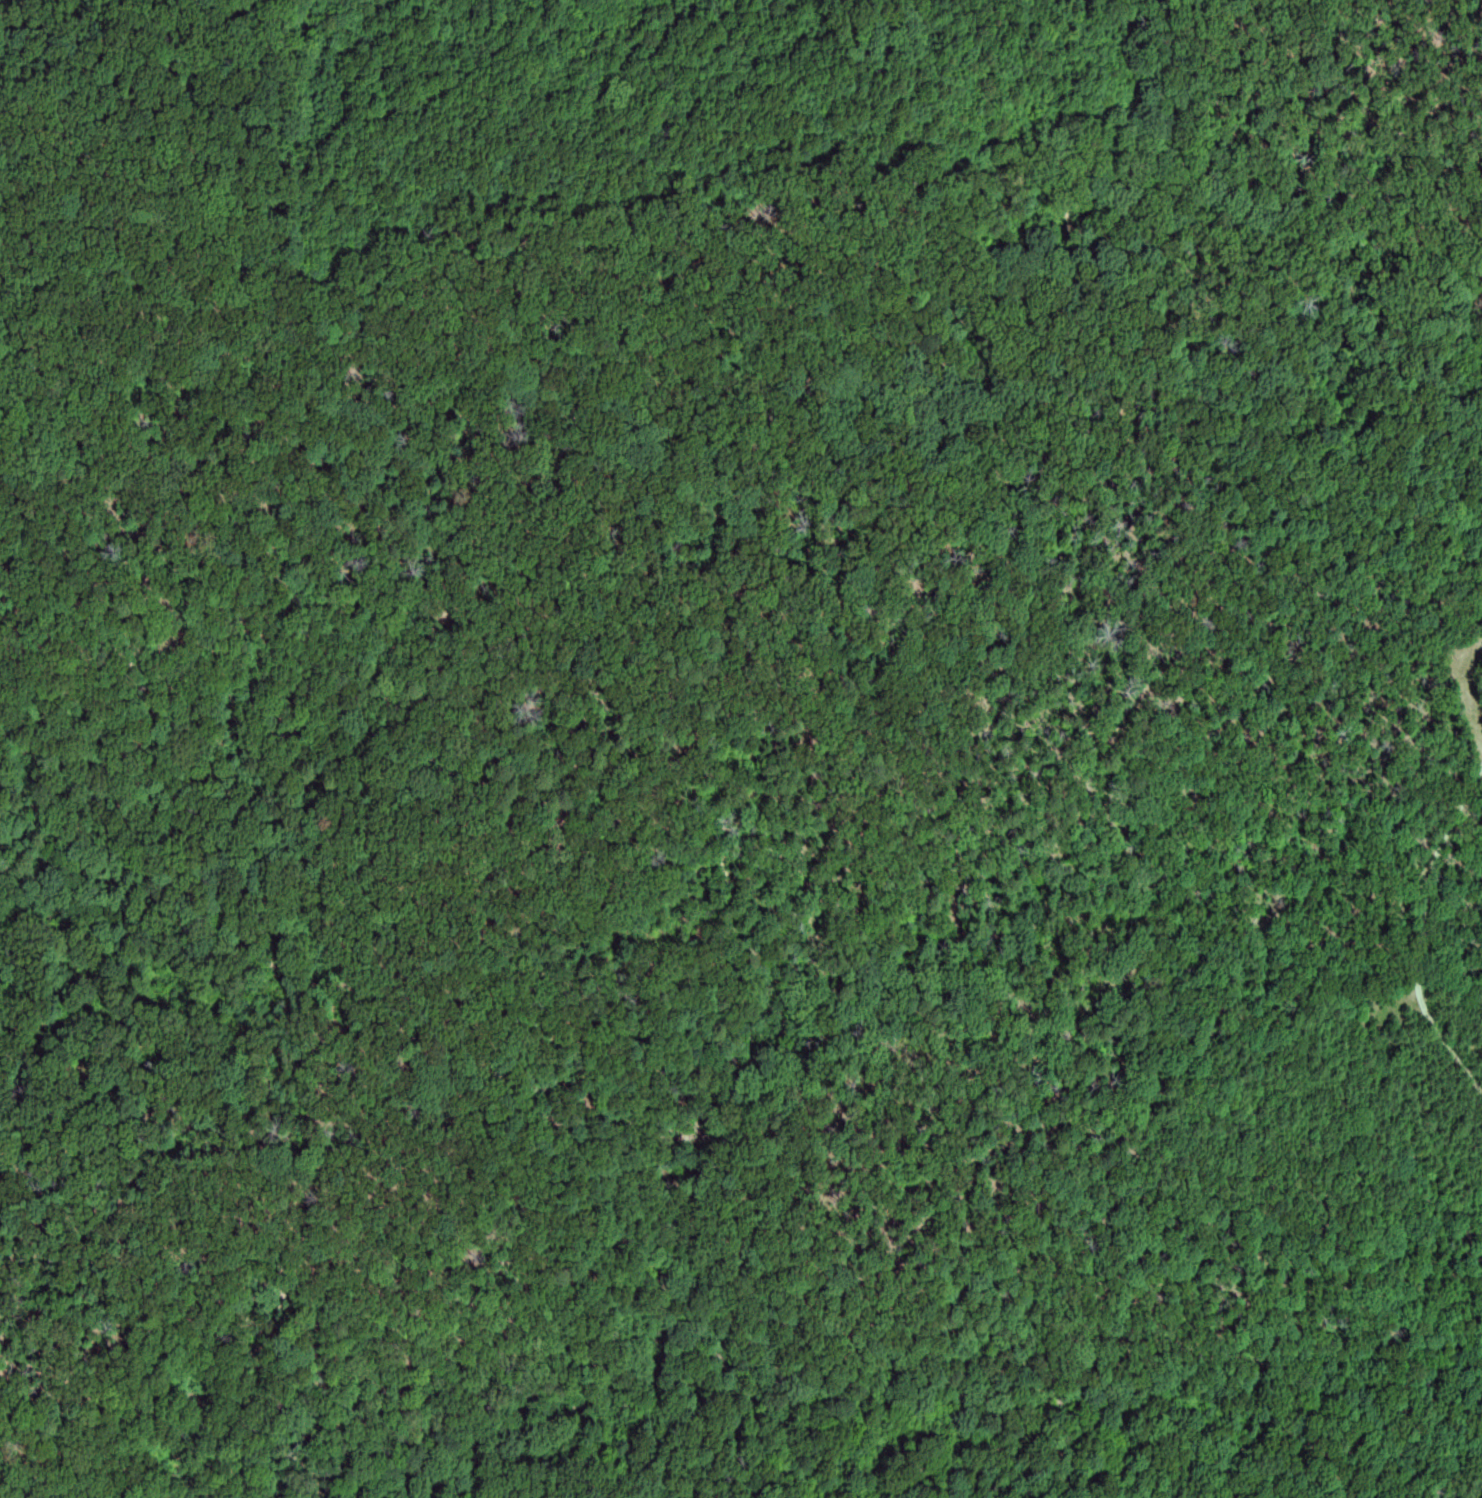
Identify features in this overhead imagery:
road: (1411, 931)

